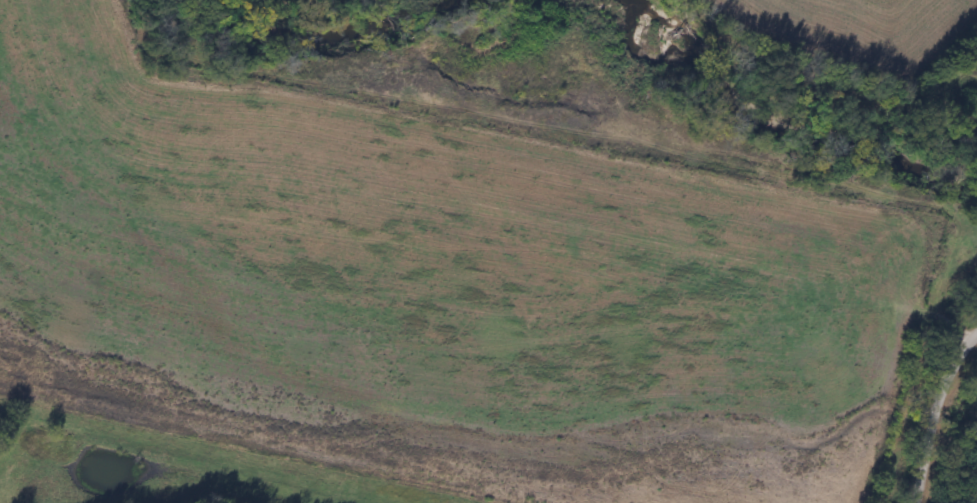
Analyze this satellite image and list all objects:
river: (322, 35)
river: (780, 123)
road: (930, 412)

